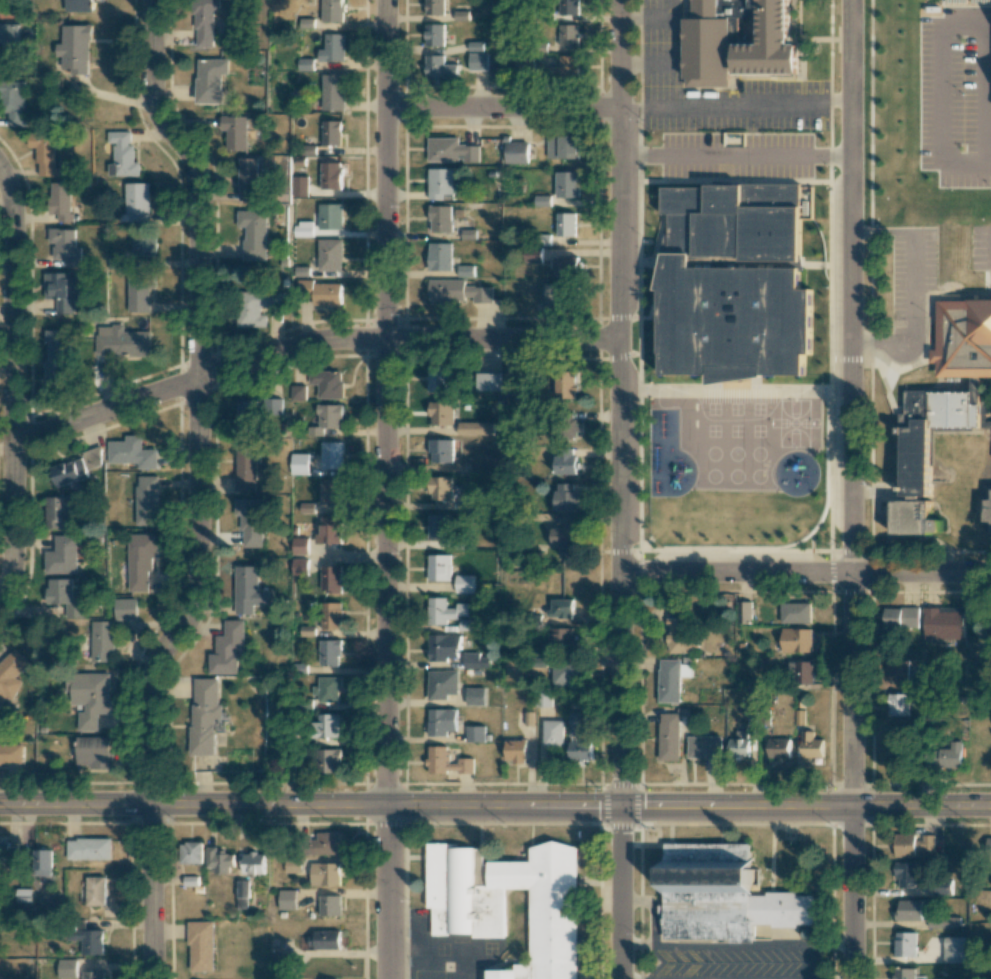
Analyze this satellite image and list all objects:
building: (80, 5)
building: (435, 7)
building: (567, 7)
building: (332, 10)
road: (630, 15)
road: (663, 15)
building: (204, 21)
road: (938, 27)
building: (8, 35)
building: (435, 35)
building: (564, 35)
building: (476, 46)
building: (332, 48)
building: (733, 48)
building: (74, 49)
building: (478, 61)
road: (659, 62)
road: (631, 63)
building: (305, 64)
building: (524, 64)
building: (440, 67)
building: (566, 68)
parking lot: (659, 70)
building: (210, 79)
building: (332, 92)
parking lot: (954, 94)
road: (839, 101)
building: (13, 103)
road: (631, 104)
road: (736, 105)
road: (503, 108)
building: (234, 131)
building: (331, 132)
building: (562, 147)
building: (451, 150)
building: (515, 151)
building: (44, 153)
road: (632, 154)
parking lot: (736, 154)
road: (736, 154)
building: (122, 155)
road: (840, 155)
road: (987, 164)
building: (330, 175)
building: (247, 179)
building: (442, 184)
building: (567, 184)
building: (298, 186)
building: (60, 200)
building: (542, 200)
building: (136, 203)
building: (329, 216)
building: (440, 218)
building: (565, 224)
building: (303, 229)
building: (253, 233)
building: (143, 243)
building: (65, 246)
parking lot: (979, 251)
building: (533, 254)
building: (330, 255)
building: (440, 257)
road: (912, 265)
building: (566, 266)
building: (465, 271)
parking lot: (911, 276)
building: (732, 283)
building: (62, 290)
building: (457, 291)
building: (138, 292)
building: (559, 295)
building: (257, 307)
building: (122, 342)
road: (311, 343)
road: (889, 345)
building: (55, 357)
building: (440, 379)
building: (488, 381)
building: (327, 383)
building: (513, 383)
road: (15, 384)
building: (566, 385)
building: (298, 393)
road: (622, 403)
road: (852, 404)
building: (941, 411)
building: (440, 413)
building: (247, 415)
building: (326, 419)
building: (475, 428)
building: (440, 450)
building: (131, 453)
building: (330, 456)
building: (92, 457)
building: (564, 463)
building: (299, 464)
building: (245, 470)
building: (67, 472)
road: (195, 488)
road: (385, 489)
building: (439, 489)
building: (329, 492)
building: (565, 496)
building: (147, 501)
building: (987, 508)
building: (58, 514)
building: (248, 524)
building: (437, 527)
building: (329, 530)
building: (565, 535)
building: (299, 546)
building: (61, 557)
building: (140, 563)
building: (298, 568)
building: (438, 569)
road: (806, 573)
building: (329, 580)
building: (463, 585)
building: (247, 592)
building: (64, 596)
building: (561, 608)
building: (124, 610)
building: (445, 612)
building: (744, 612)
building: (794, 613)
building: (329, 616)
building: (899, 619)
building: (943, 623)
building: (466, 624)
building: (678, 634)
building: (795, 640)
building: (559, 641)
building: (100, 642)
building: (226, 649)
building: (442, 649)
building: (328, 653)
building: (475, 661)
building: (896, 669)
building: (801, 672)
building: (10, 673)
building: (564, 674)
building: (672, 679)
building: (441, 686)
building: (327, 690)
building: (475, 696)
building: (88, 698)
building: (543, 698)
building: (897, 705)
building: (203, 716)
building: (440, 723)
building: (577, 723)
building: (324, 726)
building: (475, 733)
building: (553, 734)
building: (669, 737)
building: (739, 745)
building: (810, 745)
building: (705, 747)
building: (778, 748)
building: (516, 751)
building: (580, 751)
building: (92, 752)
building: (10, 755)
building: (950, 755)
building: (319, 761)
building: (445, 763)
road: (424, 807)
traffic signals: (620, 807)
road: (920, 808)
building: (320, 844)
building: (912, 845)
building: (989, 848)
building: (88, 849)
building: (8, 853)
building: (190, 853)
building: (42, 862)
building: (219, 862)
building: (253, 863)
building: (292, 866)
building: (324, 874)
building: (907, 875)
building: (942, 887)
building: (242, 890)
building: (95, 891)
road: (620, 892)
road: (849, 894)
building: (24, 895)
building: (722, 895)
building: (286, 900)
building: (329, 905)
road: (651, 910)
building: (908, 910)
building: (467, 922)
building: (943, 922)
building: (82, 937)
building: (325, 939)
road: (735, 944)
building: (905, 944)
building: (200, 945)
building: (953, 949)
building: (279, 964)
building: (66, 969)
building: (904, 973)
building: (92, 975)

